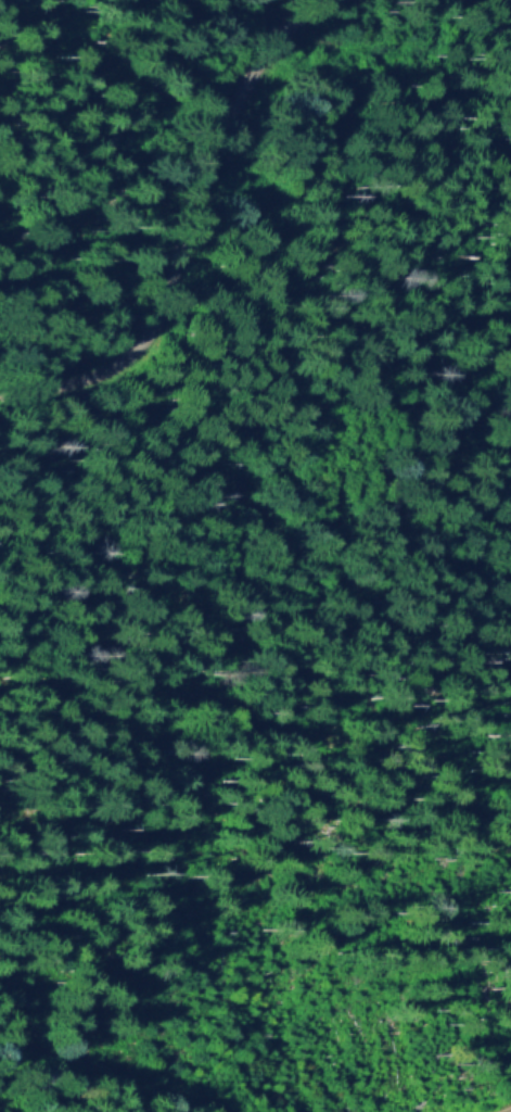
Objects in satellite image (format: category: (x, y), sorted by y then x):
road: (191, 222)

